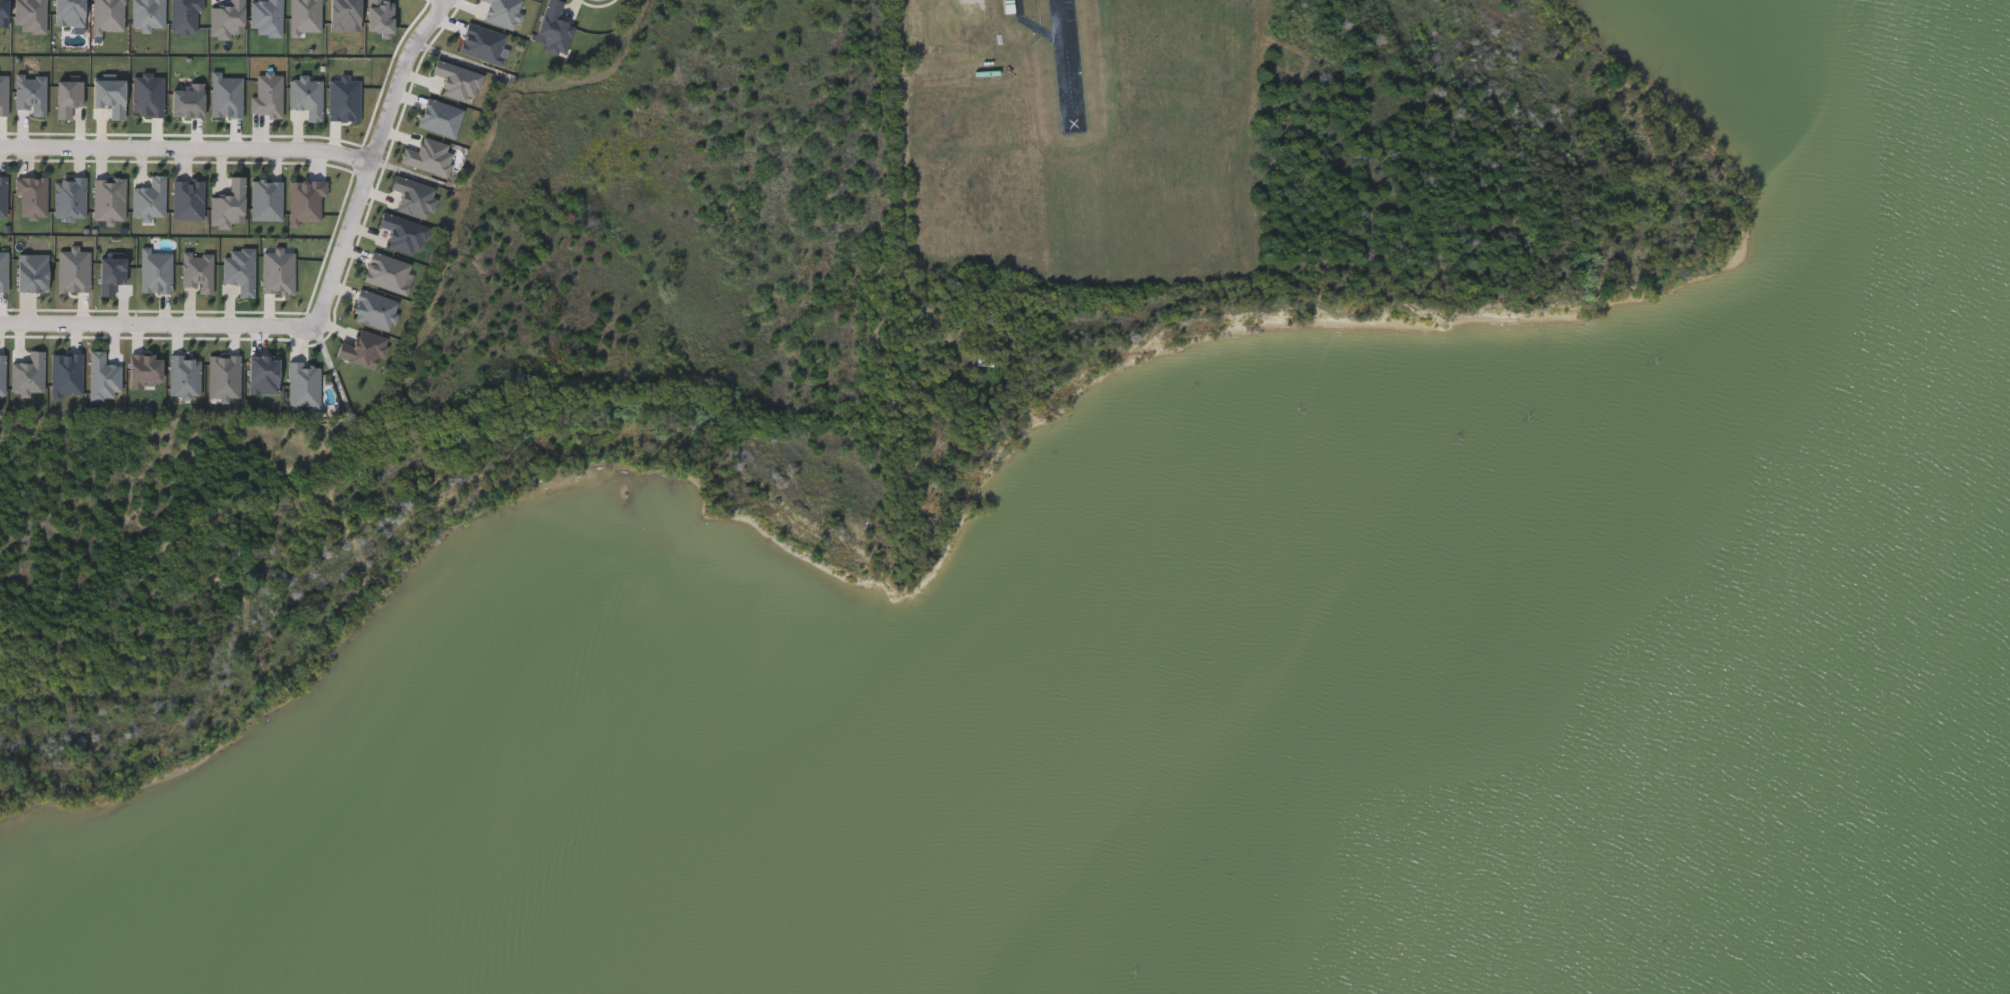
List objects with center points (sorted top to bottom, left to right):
road: (186, 143)
road: (372, 159)
road: (156, 325)
building: (987, 363)
building: (943, 894)

